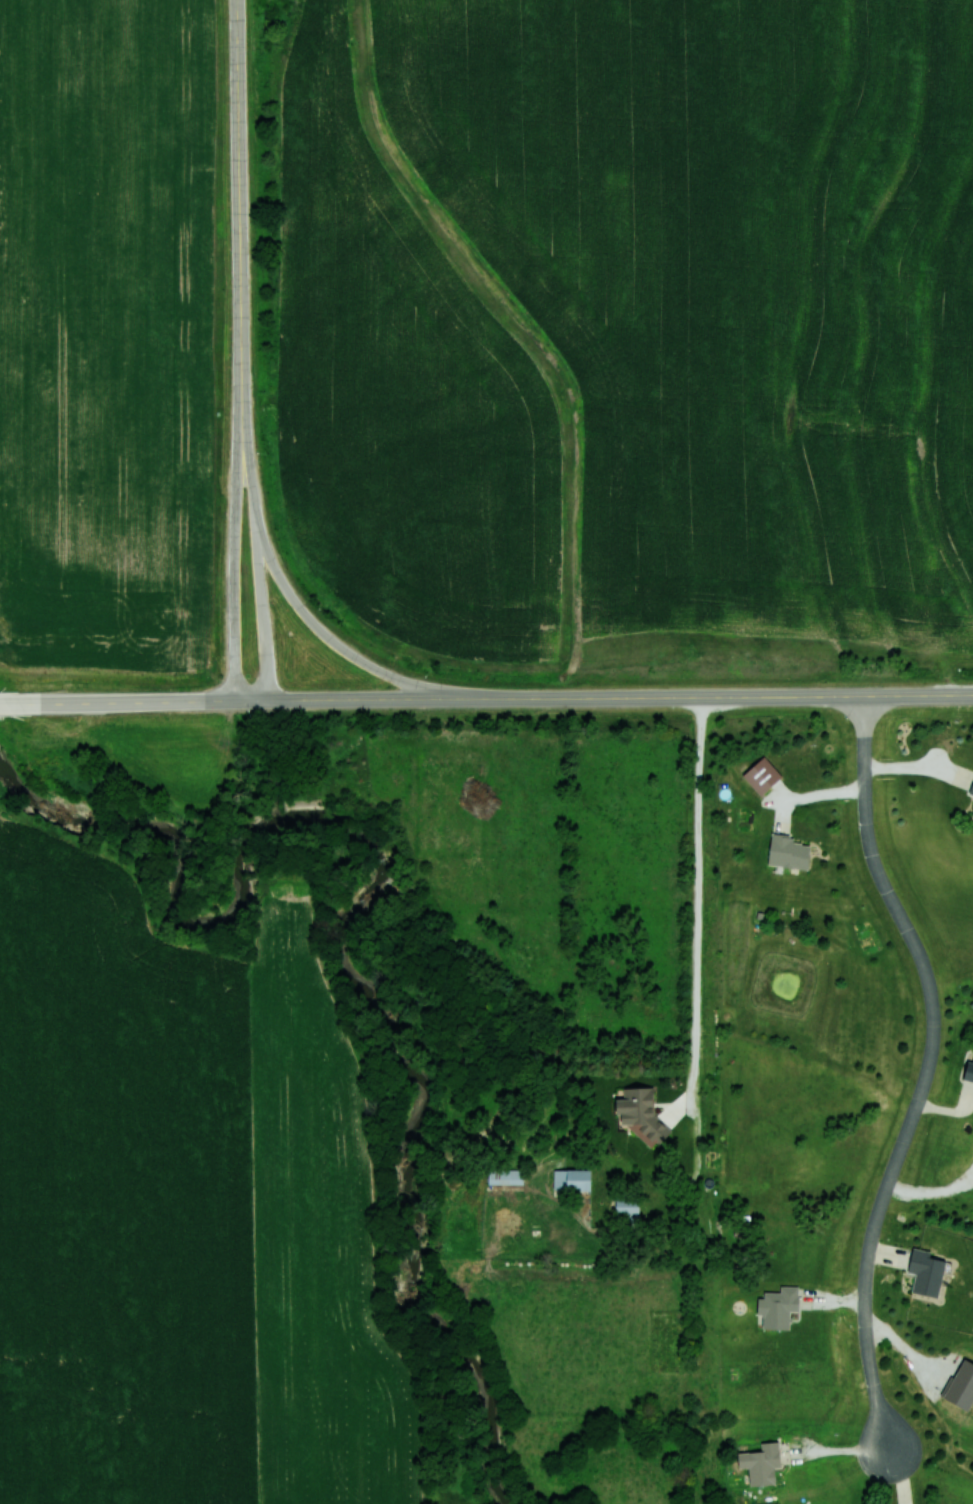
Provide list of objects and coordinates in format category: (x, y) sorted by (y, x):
road: (239, 222)
road: (233, 571)
road: (258, 571)
road: (339, 646)
road: (508, 698)
road: (21, 701)
building: (760, 774)
building: (971, 789)
building: (972, 812)
building: (787, 851)
building: (967, 1071)
road: (928, 1072)
building: (615, 1123)
building: (504, 1177)
building: (570, 1180)
building: (625, 1206)
building: (924, 1272)
building: (777, 1306)
building: (759, 1463)

